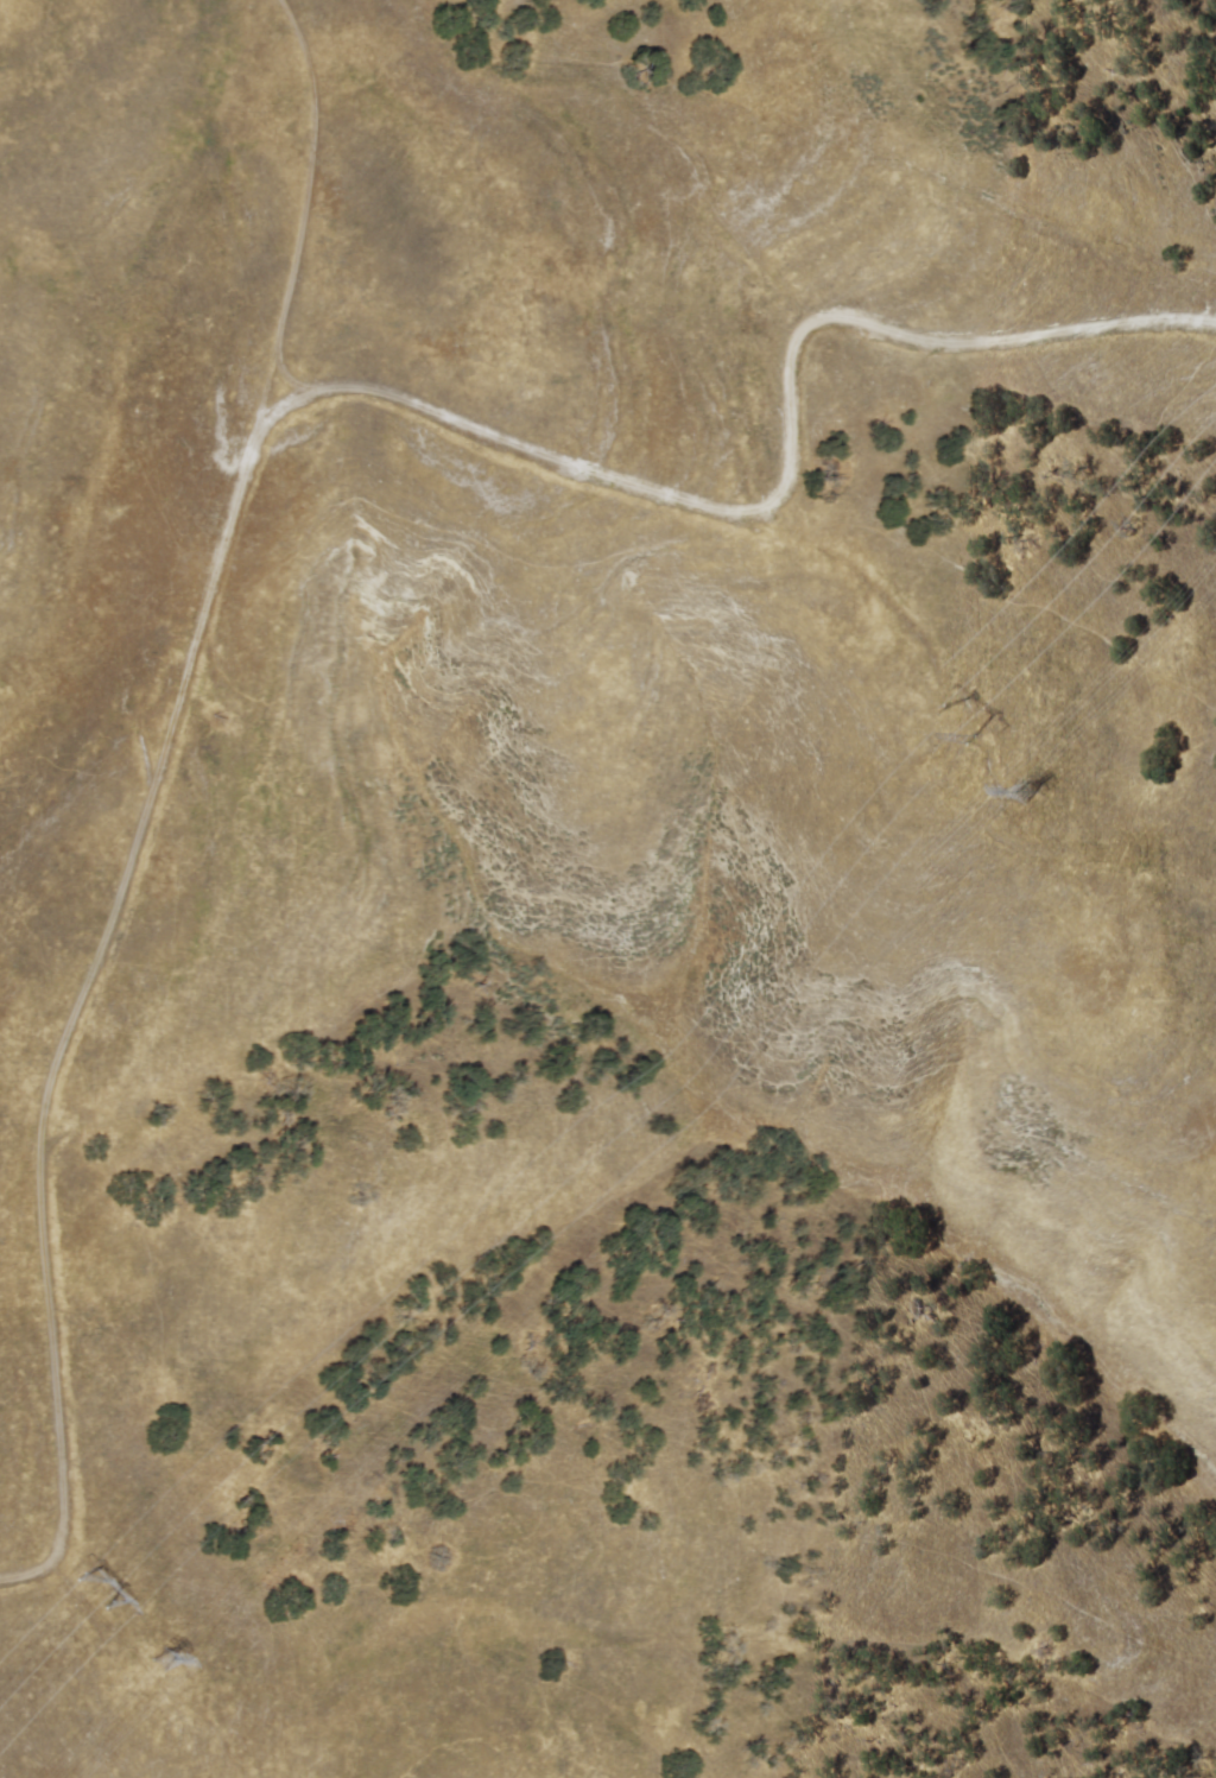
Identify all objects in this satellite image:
road: (304, 221)
road: (246, 464)
power tower: (962, 723)
power tower: (1021, 799)
power tower: (108, 1599)
power tower: (167, 1662)

